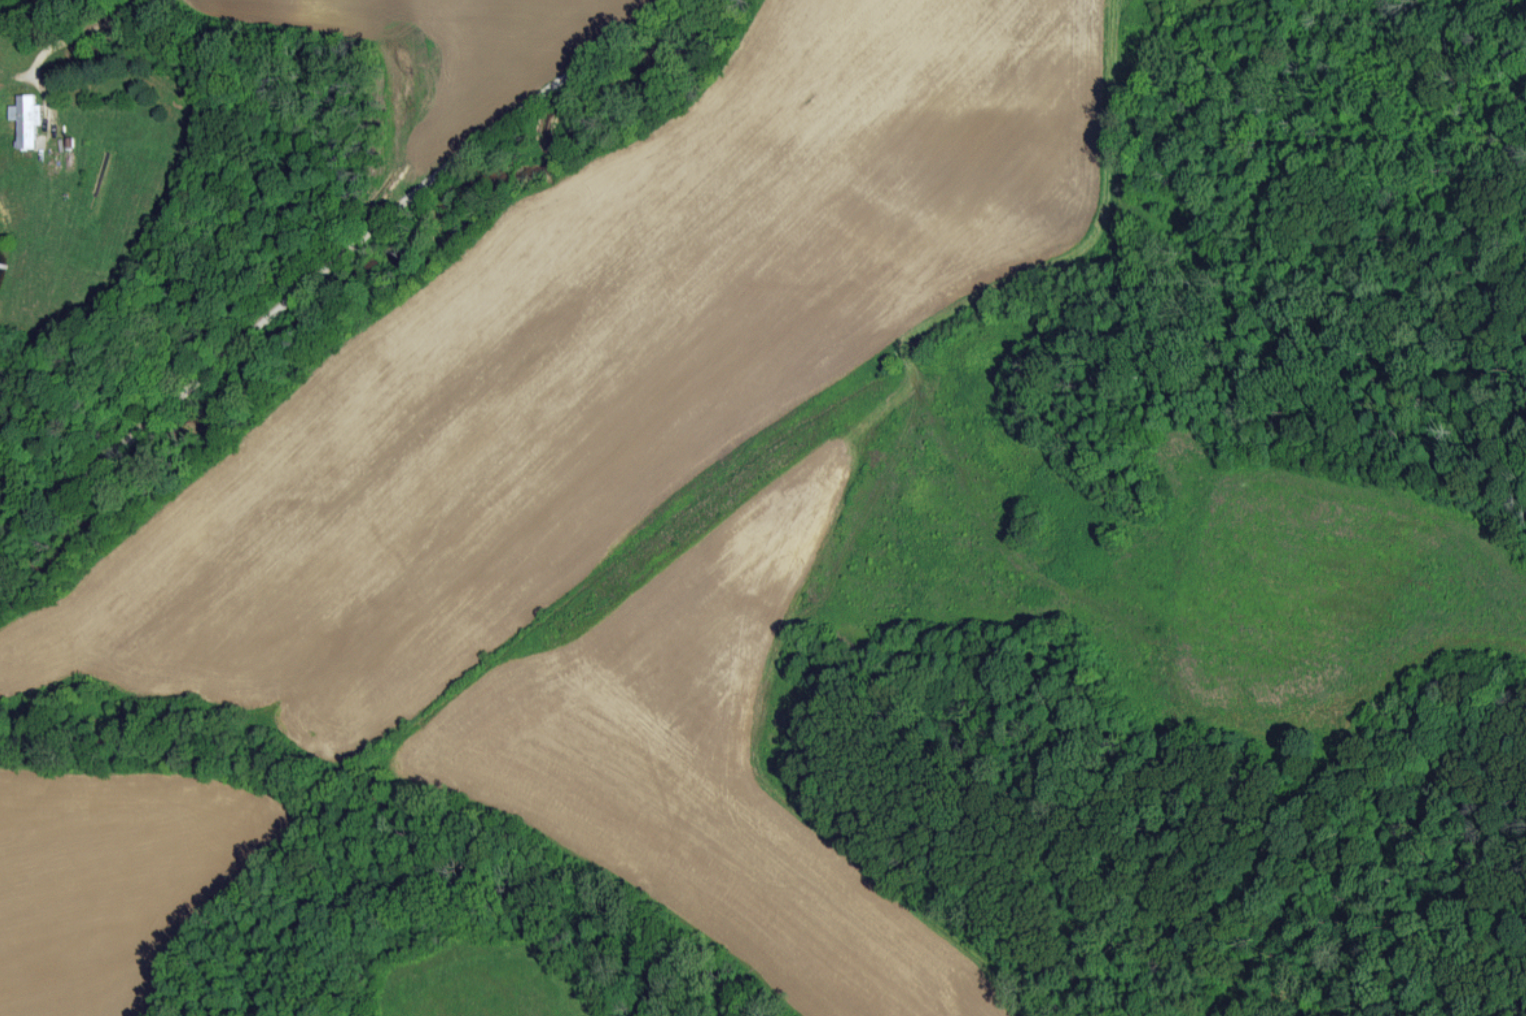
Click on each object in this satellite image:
building: (25, 118)
road: (331, 265)

